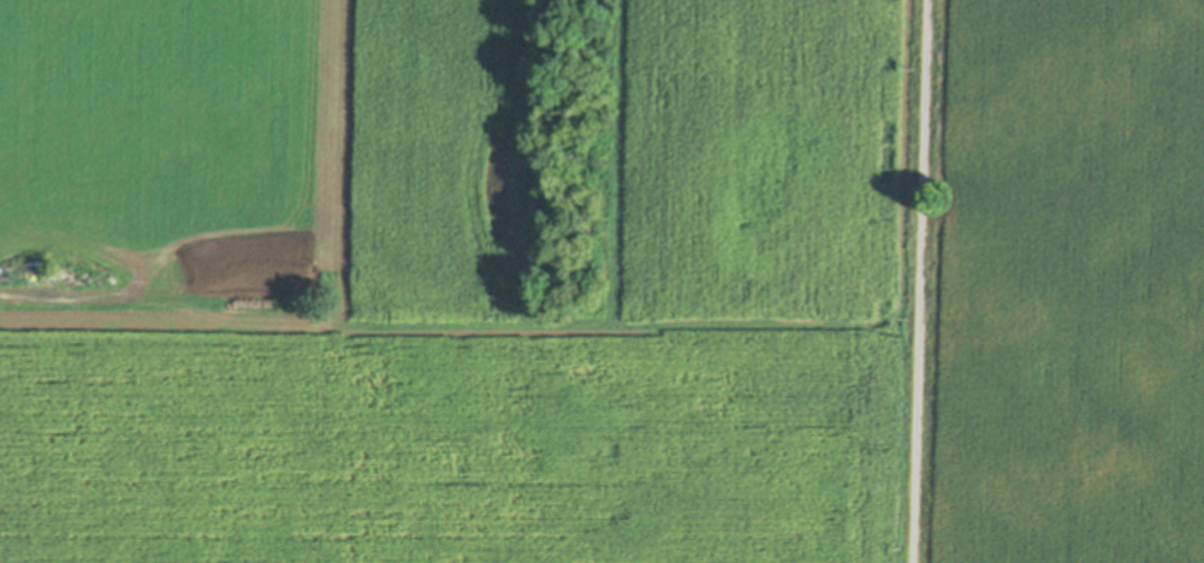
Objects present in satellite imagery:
crop: (447, 280)
road: (919, 281)
crop: (1068, 284)

